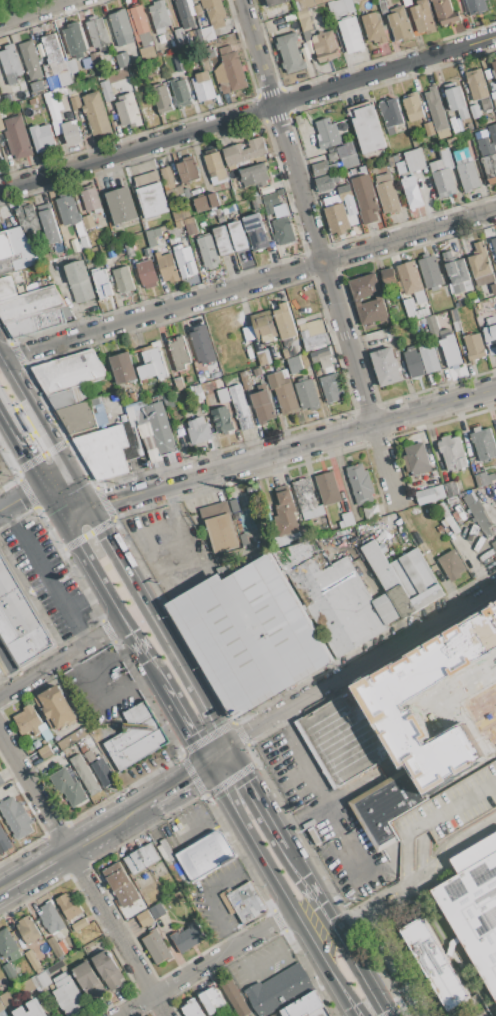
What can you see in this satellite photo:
building: (195, 0)
building: (296, 0)
building: (320, 1)
building: (276, 2)
building: (407, 2)
building: (309, 3)
building: (475, 6)
building: (193, 8)
building: (340, 8)
road: (33, 11)
building: (214, 12)
building: (445, 12)
building: (184, 13)
building: (159, 16)
building: (422, 16)
building: (304, 20)
building: (140, 23)
building: (399, 24)
building: (52, 27)
building: (121, 27)
building: (374, 27)
building: (98, 33)
building: (179, 35)
building: (351, 35)
building: (75, 40)
building: (182, 44)
building: (324, 46)
building: (159, 53)
building: (290, 53)
building: (55, 58)
building: (122, 59)
building: (30, 60)
building: (93, 62)
building: (10, 63)
building: (180, 64)
building: (72, 66)
building: (494, 68)
building: (231, 71)
building: (488, 75)
building: (53, 82)
building: (477, 84)
building: (203, 85)
building: (37, 87)
building: (106, 91)
building: (180, 93)
building: (494, 95)
building: (140, 96)
building: (6, 98)
building: (161, 99)
building: (456, 99)
building: (75, 102)
building: (486, 103)
building: (413, 107)
building: (436, 109)
building: (128, 110)
building: (474, 111)
building: (54, 112)
building: (97, 115)
building: (390, 115)
road: (248, 116)
building: (1, 124)
building: (454, 126)
building: (428, 129)
building: (367, 130)
building: (72, 132)
building: (492, 132)
building: (327, 133)
building: (17, 137)
building: (42, 138)
building: (0, 150)
building: (243, 152)
building: (396, 158)
building: (488, 158)
building: (349, 160)
building: (412, 162)
building: (215, 165)
building: (325, 166)
building: (188, 169)
building: (443, 174)
building: (468, 174)
building: (255, 175)
building: (167, 176)
building: (327, 182)
building: (267, 189)
building: (411, 191)
building: (281, 192)
building: (345, 193)
building: (386, 193)
building: (151, 194)
building: (365, 198)
building: (91, 200)
building: (211, 201)
building: (257, 202)
building: (270, 202)
building: (122, 206)
building: (229, 209)
building: (68, 210)
building: (27, 218)
building: (337, 218)
building: (88, 222)
building: (49, 226)
building: (192, 228)
building: (282, 228)
building: (256, 231)
building: (238, 235)
building: (153, 236)
building: (222, 240)
building: (494, 243)
building: (5, 245)
road: (319, 246)
building: (130, 251)
building: (209, 251)
building: (123, 252)
building: (147, 252)
building: (111, 254)
building: (28, 257)
building: (185, 260)
building: (480, 261)
building: (11, 263)
building: (167, 267)
building: (430, 271)
building: (457, 272)
building: (147, 273)
building: (386, 273)
building: (123, 279)
building: (78, 281)
building: (410, 281)
road: (248, 283)
building: (10, 284)
building: (102, 284)
building: (364, 286)
building: (358, 302)
building: (30, 304)
building: (414, 310)
building: (372, 311)
building: (455, 320)
building: (40, 321)
building: (301, 321)
building: (423, 321)
building: (285, 322)
building: (264, 326)
building: (432, 327)
building: (247, 333)
building: (313, 333)
building: (491, 334)
building: (202, 344)
building: (474, 347)
building: (450, 350)
building: (288, 352)
building: (179, 354)
building: (428, 356)
building: (264, 357)
building: (322, 357)
building: (413, 362)
building: (151, 364)
building: (295, 365)
building: (386, 366)
building: (123, 368)
building: (199, 371)
building: (258, 371)
building: (69, 372)
building: (189, 379)
building: (245, 380)
building: (179, 384)
building: (331, 387)
building: (216, 389)
building: (283, 391)
building: (307, 393)
building: (139, 396)
building: (132, 397)
building: (63, 399)
building: (138, 405)
building: (263, 406)
building: (240, 407)
road: (33, 414)
building: (78, 417)
building: (221, 420)
building: (158, 426)
building: (200, 431)
building: (483, 443)
road: (21, 445)
road: (38, 446)
road: (291, 449)
building: (110, 450)
traffic signals: (25, 452)
building: (452, 452)
road: (41, 454)
building: (416, 459)
building: (491, 476)
road: (54, 477)
building: (434, 477)
building: (360, 484)
building: (328, 488)
road: (76, 489)
building: (450, 489)
building: (425, 495)
road: (23, 496)
road: (51, 498)
traffic signals: (18, 499)
traffic signals: (114, 499)
building: (306, 499)
road: (1, 507)
road: (73, 510)
building: (371, 512)
building: (478, 513)
building: (287, 515)
building: (346, 519)
building: (447, 519)
building: (220, 527)
traffic signals: (103, 537)
building: (245, 540)
building: (494, 545)
parking lot: (170, 548)
road: (91, 566)
building: (452, 566)
road: (44, 575)
building: (363, 594)
road: (84, 597)
building: (20, 620)
road: (156, 627)
building: (248, 634)
building: (428, 650)
road: (142, 653)
road: (61, 658)
building: (472, 658)
road: (359, 664)
road: (10, 666)
building: (448, 676)
building: (56, 707)
building: (138, 714)
building: (31, 722)
road: (183, 724)
building: (135, 733)
building: (351, 734)
building: (73, 737)
road: (299, 746)
traffic signals: (225, 748)
building: (140, 749)
building: (45, 751)
road: (216, 756)
building: (455, 761)
traffic signals: (207, 764)
building: (101, 768)
building: (85, 774)
building: (1, 781)
road: (177, 785)
building: (68, 787)
road: (253, 798)
building: (450, 806)
parking lot: (450, 806)
building: (386, 807)
road: (130, 813)
building: (16, 817)
road: (91, 836)
road: (249, 838)
building: (4, 841)
building: (168, 854)
building: (206, 855)
building: (141, 859)
road: (37, 869)
road: (85, 874)
road: (413, 876)
building: (118, 880)
road: (2, 889)
building: (227, 902)
building: (246, 902)
building: (68, 905)
building: (473, 906)
building: (151, 915)
building: (51, 917)
building: (80, 925)
building: (28, 930)
road: (334, 932)
building: (188, 937)
building: (8, 945)
building: (58, 946)
building: (156, 947)
road: (267, 958)
building: (33, 959)
road: (205, 963)
road: (325, 963)
building: (435, 963)
building: (55, 966)
building: (107, 970)
building: (10, 972)
building: (86, 975)
building: (43, 979)
building: (279, 991)
building: (70, 996)
building: (6, 998)
building: (235, 998)
building: (212, 1000)
building: (1, 1006)
building: (303, 1006)
building: (32, 1009)
building: (192, 1009)
building: (320, 1012)
road: (383, 1015)

